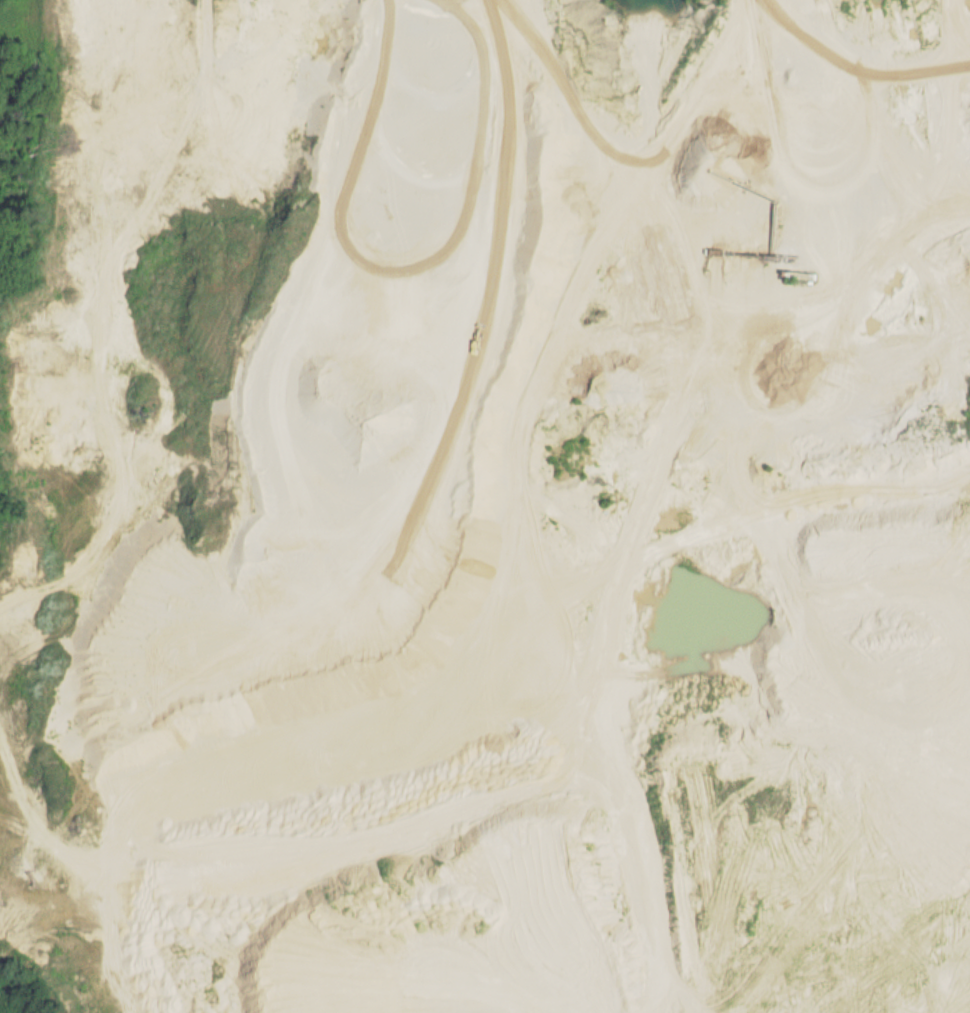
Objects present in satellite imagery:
quarry: (492, 509)

